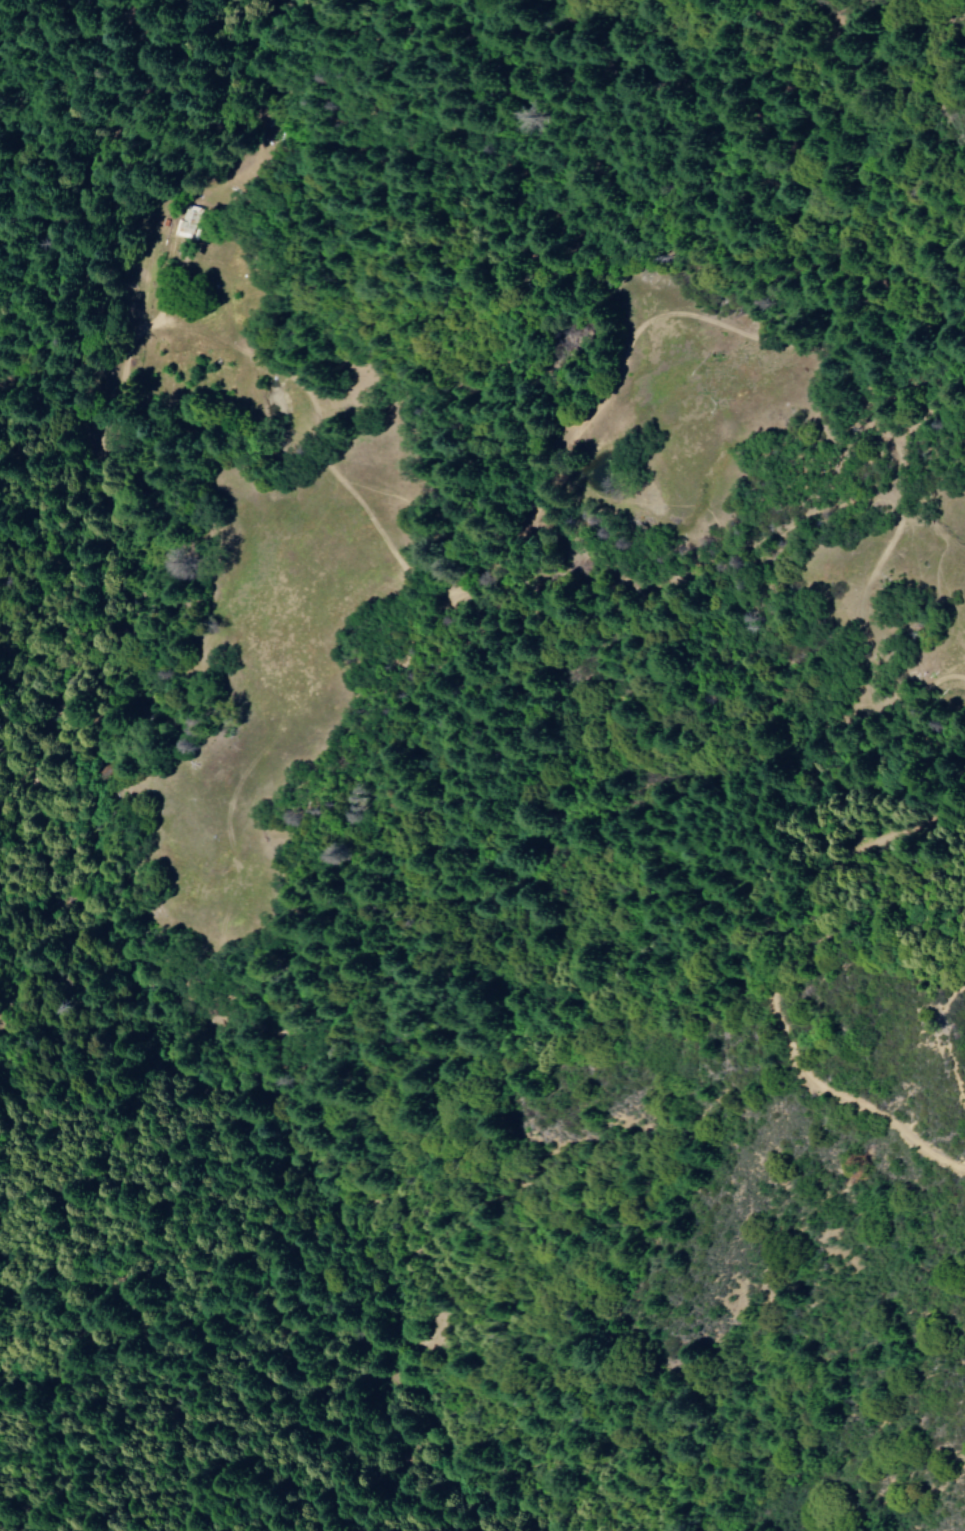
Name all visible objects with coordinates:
road: (15, 27)
road: (81, 280)
road: (28, 993)

